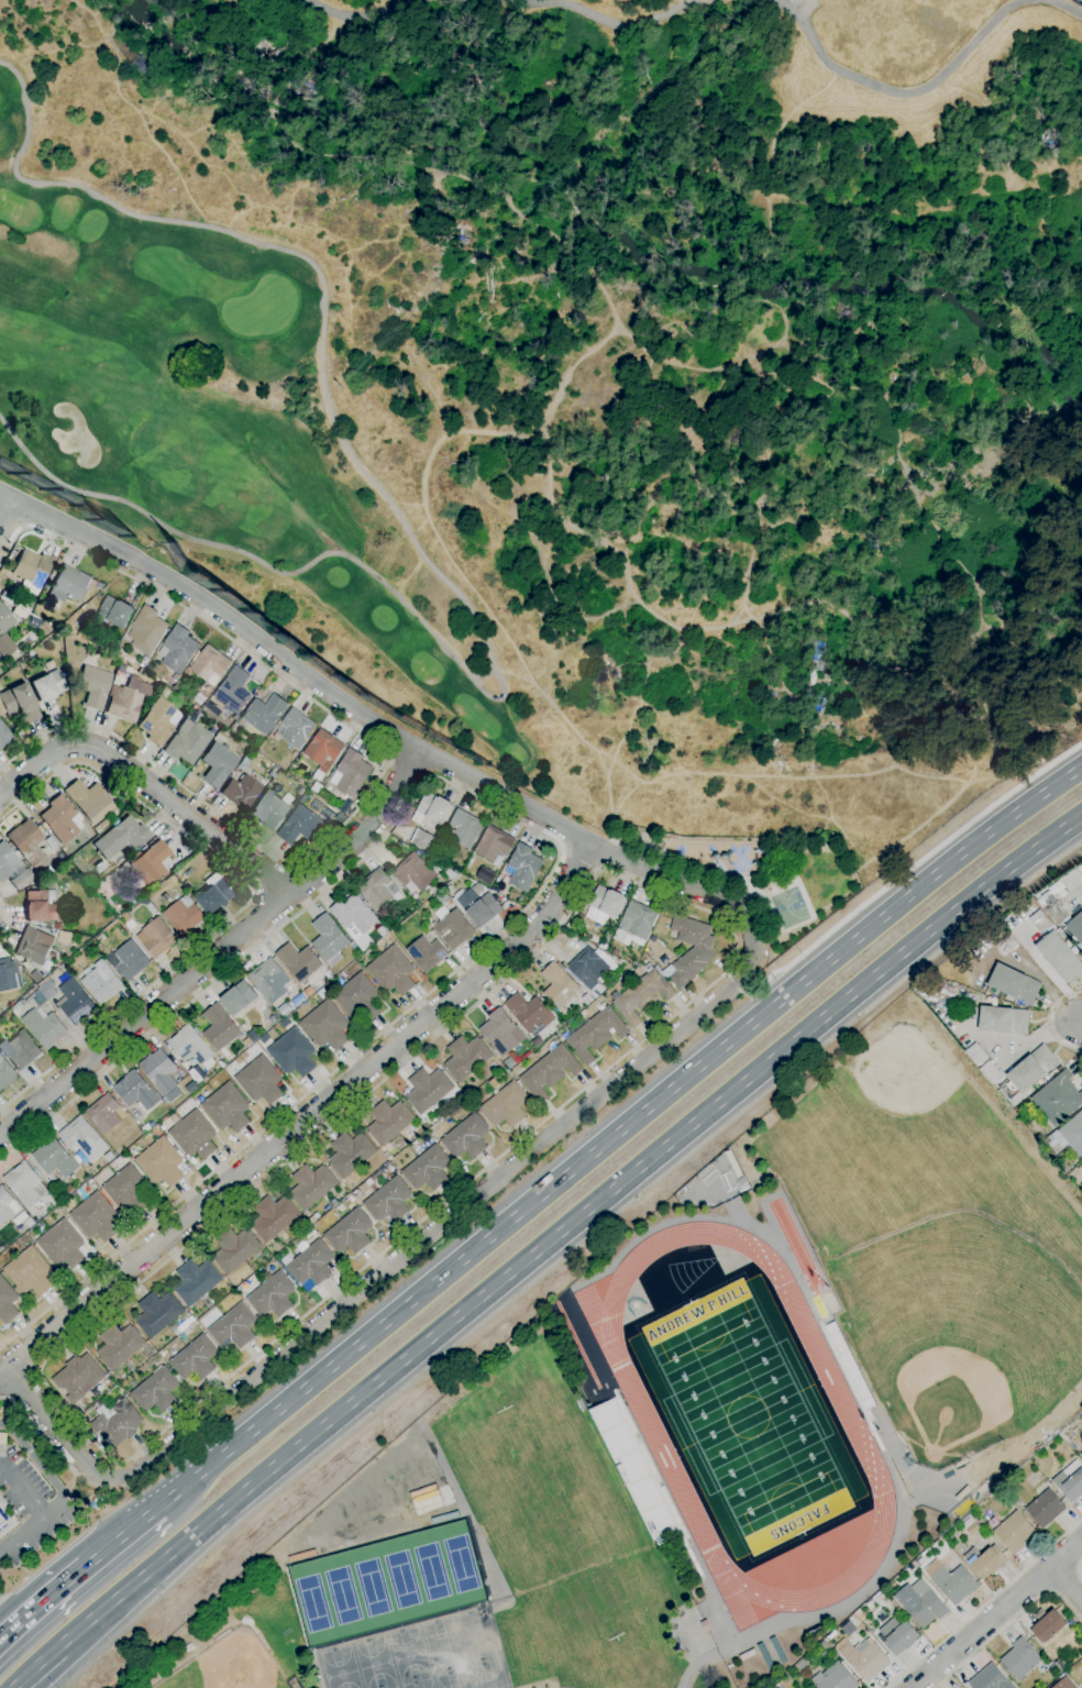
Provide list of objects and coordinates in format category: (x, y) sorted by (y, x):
park: (1080, 1)
road: (514, 4)
park: (897, 33)
road: (928, 86)
river: (604, 220)
park: (261, 308)
park: (222, 444)
road: (8, 515)
road: (427, 562)
building: (32, 570)
building: (69, 584)
building: (100, 587)
building: (115, 613)
building: (4, 627)
building: (44, 628)
building: (146, 630)
building: (177, 649)
road: (256, 660)
building: (144, 661)
building: (210, 665)
building: (143, 672)
road: (483, 674)
building: (170, 682)
building: (47, 685)
building: (95, 686)
building: (233, 691)
building: (128, 698)
building: (199, 698)
building: (19, 703)
building: (192, 713)
building: (264, 714)
building: (159, 721)
building: (297, 728)
building: (4, 736)
building: (188, 741)
building: (323, 750)
road: (152, 762)
building: (218, 764)
road: (407, 764)
building: (236, 770)
building: (351, 774)
road: (150, 784)
building: (241, 791)
building: (89, 801)
building: (345, 806)
building: (433, 809)
building: (269, 810)
building: (59, 818)
building: (341, 818)
building: (305, 824)
building: (465, 828)
building: (120, 837)
building: (422, 840)
building: (26, 841)
building: (494, 843)
road: (1064, 857)
road: (577, 859)
road: (553, 860)
building: (151, 862)
building: (523, 867)
building: (12, 868)
building: (415, 872)
road: (904, 872)
building: (486, 875)
park: (759, 876)
building: (377, 889)
building: (505, 889)
road: (1080, 889)
building: (98, 891)
building: (213, 894)
building: (442, 897)
road: (249, 900)
building: (147, 904)
building: (450, 904)
building: (605, 905)
building: (42, 906)
park: (787, 907)
building: (484, 911)
road: (3, 914)
building: (382, 914)
building: (1057, 914)
building: (184, 916)
building: (355, 919)
building: (1040, 922)
building: (636, 923)
building: (58, 926)
building: (454, 929)
building: (382, 930)
building: (1075, 930)
building: (151, 935)
building: (101, 938)
building: (330, 940)
building: (605, 940)
building: (33, 946)
building: (1006, 946)
road: (218, 951)
building: (615, 952)
building: (700, 952)
building: (427, 953)
road: (733, 953)
building: (1059, 957)
building: (129, 960)
building: (298, 962)
building: (588, 968)
building: (391, 971)
building: (8, 977)
building: (269, 980)
building: (101, 982)
building: (1014, 984)
building: (559, 985)
building: (309, 992)
building: (43, 993)
road: (727, 993)
building: (641, 996)
building: (239, 999)
building: (360, 999)
building: (77, 1003)
building: (529, 1014)
building: (1003, 1020)
road: (1077, 1020)
road: (1048, 1023)
building: (325, 1026)
building: (45, 1028)
building: (220, 1029)
building: (501, 1033)
building: (595, 1034)
building: (538, 1041)
building: (190, 1046)
building: (20, 1050)
building: (294, 1052)
building: (976, 1053)
building: (0, 1057)
building: (466, 1058)
building: (509, 1063)
building: (1033, 1069)
building: (990, 1071)
building: (549, 1072)
building: (192, 1073)
building: (4, 1074)
building: (161, 1074)
park: (902, 1079)
building: (260, 1081)
building: (191, 1089)
building: (428, 1090)
building: (136, 1092)
building: (1058, 1099)
building: (506, 1105)
building: (227, 1107)
building: (1017, 1113)
building: (104, 1114)
road: (305, 1121)
building: (389, 1122)
building: (145, 1128)
building: (1033, 1132)
road: (618, 1133)
building: (194, 1135)
building: (1069, 1135)
building: (466, 1137)
building: (84, 1138)
building: (351, 1154)
building: (1050, 1154)
building: (55, 1158)
building: (161, 1162)
building: (732, 1163)
building: (428, 1169)
building: (1078, 1169)
road: (707, 1174)
building: (23, 1184)
building: (312, 1185)
building: (68, 1190)
building: (129, 1190)
building: (59, 1200)
building: (388, 1200)
building: (7, 1206)
building: (95, 1217)
building: (274, 1217)
building: (313, 1217)
road: (707, 1218)
building: (350, 1232)
building: (62, 1245)
road: (542, 1246)
track: (797, 1248)
building: (234, 1249)
building: (311, 1264)
road: (549, 1269)
building: (29, 1272)
building: (196, 1281)
building: (273, 1295)
building: (7, 1302)
building: (157, 1314)
building: (184, 1326)
building: (233, 1327)
building: (119, 1346)
building: (195, 1359)
building: (849, 1364)
building: (78, 1378)
building: (156, 1391)
park: (949, 1402)
track: (643, 1413)
park: (747, 1417)
building: (118, 1424)
building: (1075, 1430)
building: (1061, 1434)
road: (42, 1435)
building: (1081, 1455)
road: (34, 1459)
building: (636, 1469)
building: (1070, 1481)
road: (22, 1490)
building: (963, 1493)
building: (427, 1500)
building: (1045, 1509)
park: (559, 1520)
building: (2, 1521)
road: (33, 1526)
building: (969, 1526)
building: (697, 1527)
building: (1013, 1533)
road: (122, 1536)
building: (961, 1549)
building: (302, 1556)
building: (985, 1562)
road: (1080, 1571)
park: (386, 1584)
building: (953, 1584)
road: (1069, 1585)
road: (41, 1603)
building: (920, 1603)
road: (986, 1603)
building: (858, 1613)
road: (997, 1614)
road: (8, 1615)
road: (1007, 1624)
building: (1047, 1625)
building: (706, 1626)
building: (897, 1636)
park: (478, 1639)
park: (444, 1647)
park: (409, 1656)
building: (764, 1656)
building: (1019, 1658)
building: (864, 1659)
park: (376, 1663)
park: (228, 1665)
building: (803, 1666)
park: (341, 1668)
park: (488, 1676)
road: (686, 1678)
park: (453, 1679)
building: (835, 1679)
building: (990, 1679)
park: (419, 1683)
building: (1064, 1684)
park: (393, 1686)
building: (776, 1687)

